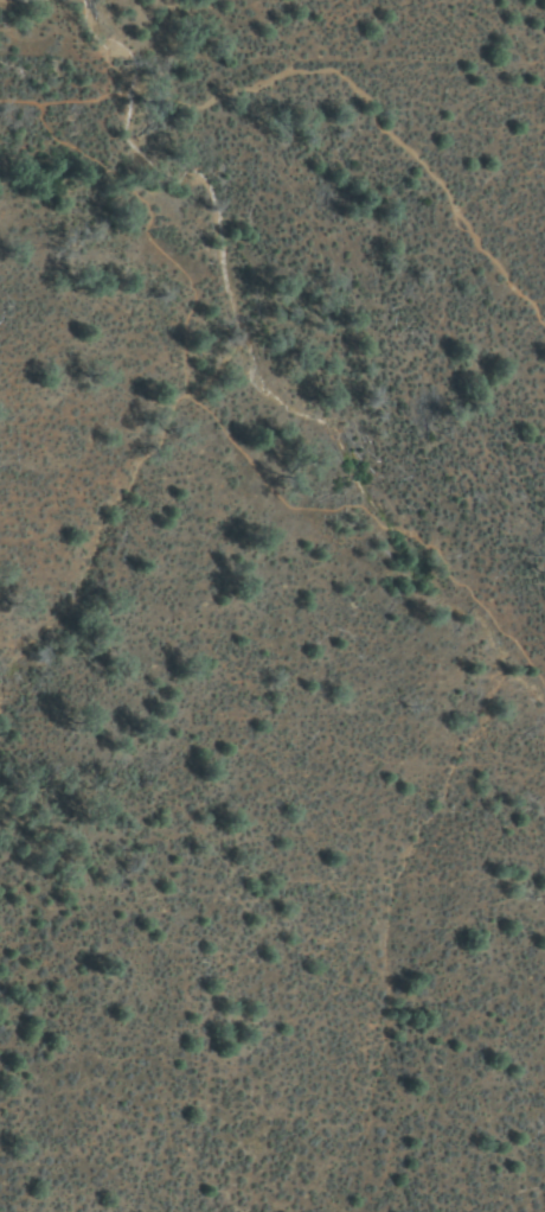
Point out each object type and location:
road: (329, 75)

